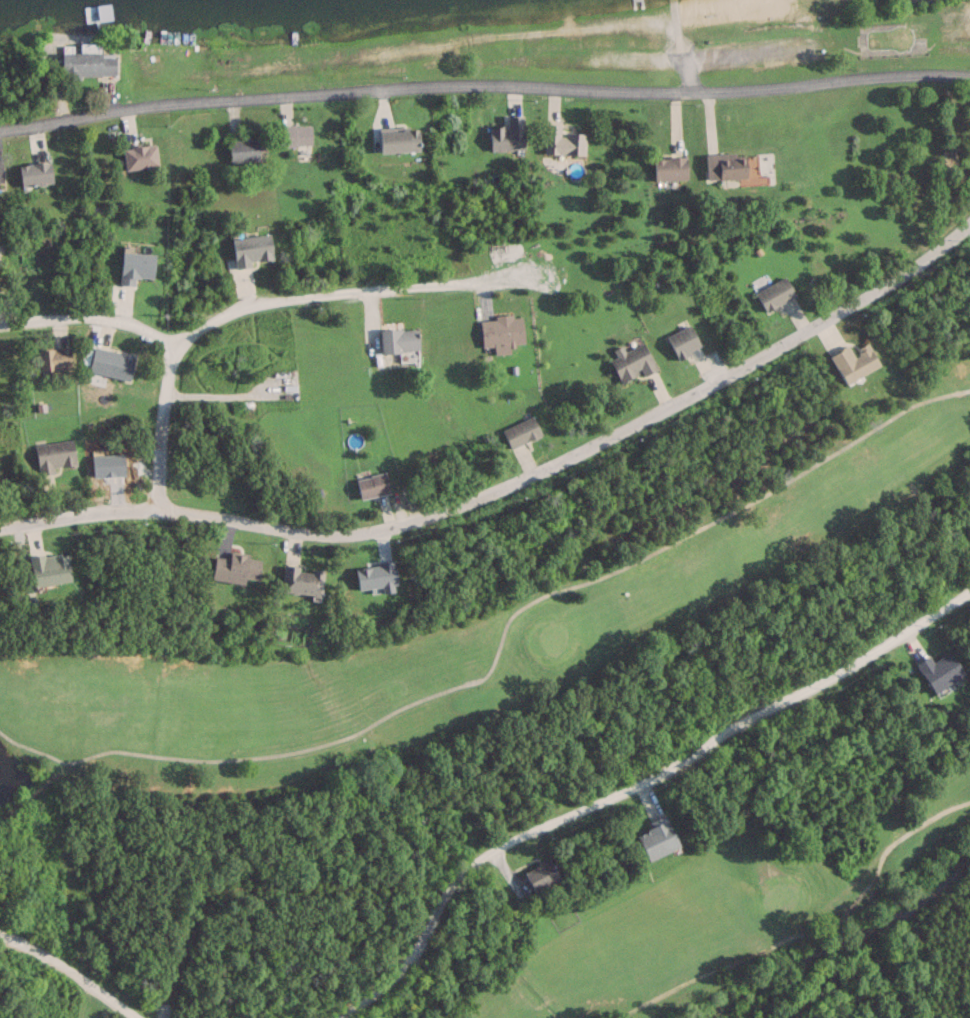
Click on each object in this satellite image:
building: (88, 63)
road: (484, 84)
building: (296, 134)
building: (509, 134)
building: (401, 140)
building: (563, 140)
building: (244, 149)
building: (141, 155)
building: (727, 165)
building: (670, 168)
building: (36, 173)
building: (253, 249)
building: (137, 266)
road: (343, 291)
building: (772, 294)
road: (86, 318)
building: (503, 332)
building: (400, 339)
building: (679, 341)
building: (55, 358)
building: (850, 361)
building: (112, 362)
building: (629, 363)
road: (158, 423)
building: (518, 431)
building: (56, 455)
road: (513, 484)
building: (368, 485)
building: (51, 568)
building: (238, 568)
building: (301, 580)
road: (635, 787)
building: (654, 837)
building: (536, 875)
road: (69, 973)

